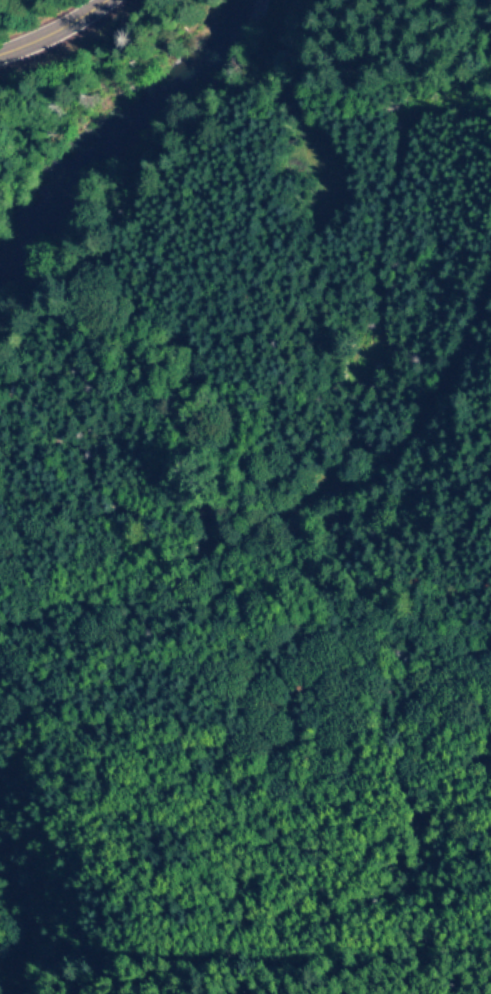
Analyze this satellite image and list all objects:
road: (53, 33)
river: (108, 135)
road: (242, 597)

